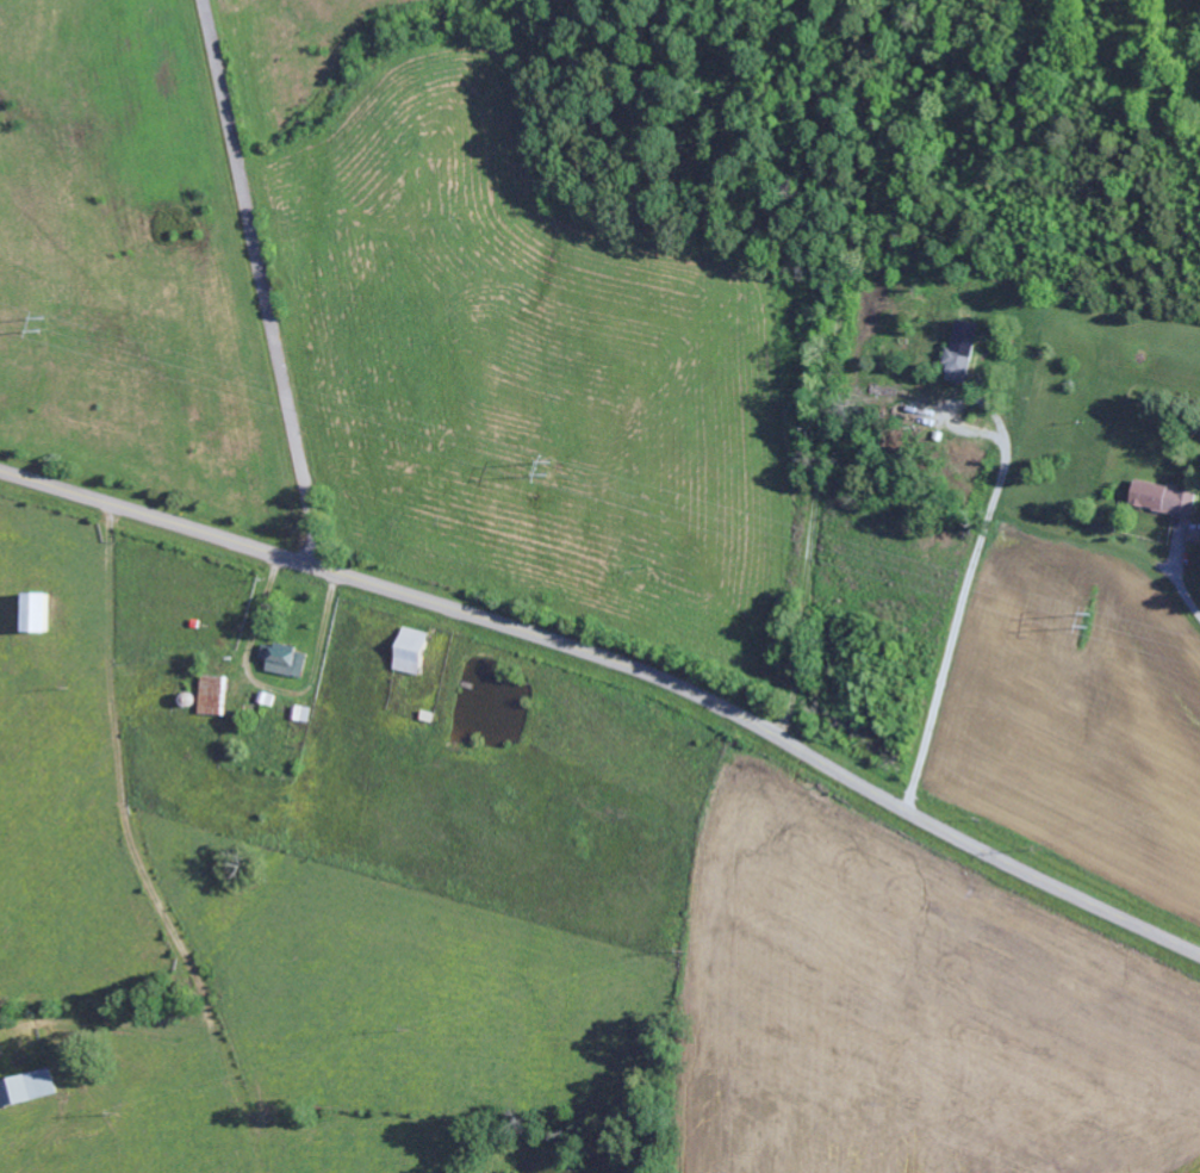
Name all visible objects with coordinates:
road: (266, 283)
power tower: (42, 324)
building: (966, 353)
power tower: (549, 467)
building: (1165, 498)
road: (1058, 522)
building: (1194, 536)
building: (39, 614)
power tower: (1093, 621)
building: (414, 651)
building: (286, 662)
road: (620, 663)
building: (217, 696)
building: (29, 1086)

